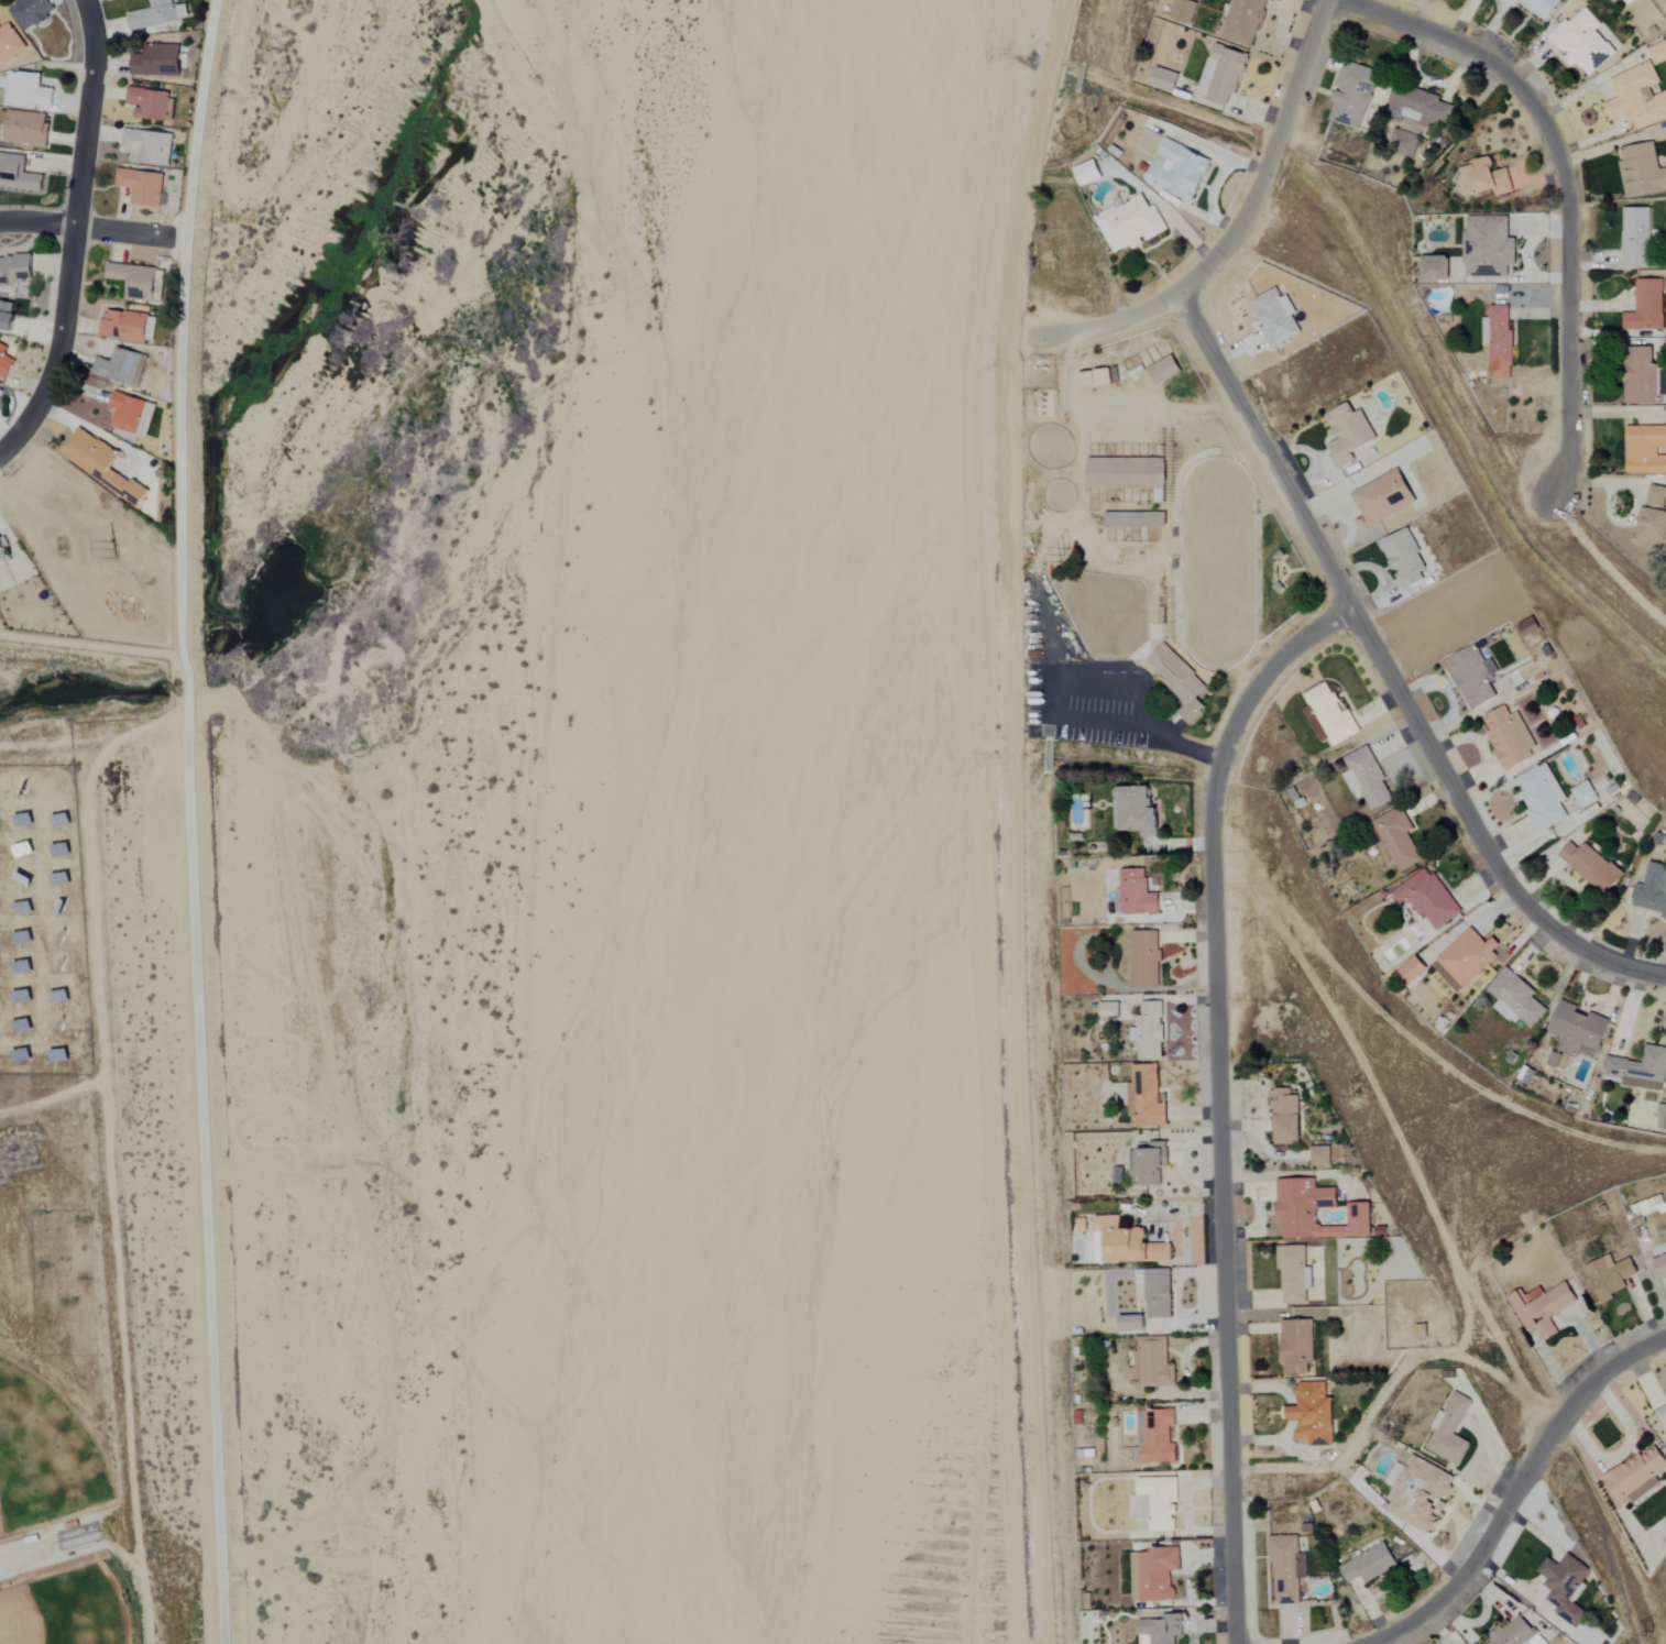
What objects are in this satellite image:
building: (1183, 11)
building: (30, 12)
building: (157, 14)
building: (1243, 22)
building: (1582, 43)
building: (9, 44)
building: (1657, 53)
building: (155, 62)
building: (1221, 76)
building: (1164, 80)
building: (29, 90)
building: (1352, 95)
building: (1636, 98)
building: (150, 105)
building: (1418, 108)
building: (24, 129)
building: (147, 147)
road: (1269, 154)
building: (1179, 171)
building: (1642, 172)
building: (1087, 174)
building: (18, 175)
building: (1487, 178)
road: (1566, 183)
building: (141, 187)
building: (1130, 224)
road: (92, 230)
road: (73, 231)
building: (1636, 237)
building: (1489, 248)
building: (1436, 268)
building: (15, 270)
building: (139, 282)
building: (1646, 307)
building: (7, 315)
building: (1276, 318)
building: (127, 326)
road: (1115, 326)
building: (1501, 337)
building: (4, 362)
building: (121, 366)
building: (1164, 371)
building: (1644, 376)
building: (1104, 379)
building: (0, 395)
building: (131, 414)
building: (1349, 434)
building: (1645, 449)
building: (100, 463)
building: (1121, 471)
building: (1384, 497)
building: (1654, 516)
building: (1136, 519)
power tower: (109, 547)
building: (2, 550)
power tower: (1054, 552)
building: (1404, 558)
building: (1528, 626)
road: (1388, 672)
building: (1473, 677)
building: (1179, 681)
building: (1333, 715)
road: (1079, 720)
building: (1316, 724)
building: (1510, 738)
building: (1367, 778)
building: (1585, 794)
building: (1543, 797)
building: (1139, 811)
road: (190, 820)
river: (723, 821)
building: (1398, 839)
building: (1591, 866)
building: (58, 879)
building: (1653, 890)
building: (1137, 894)
building: (1428, 899)
building: (58, 909)
road: (96, 924)
solar farm: (43, 927)
building: (59, 938)
building: (1468, 956)
building: (1146, 958)
building: (0, 963)
building: (1412, 971)
building: (1515, 999)
building: (1109, 1012)
building: (1150, 1030)
building: (1579, 1031)
building: (21, 1056)
building: (1554, 1059)
building: (1641, 1070)
building: (1147, 1096)
power tower: (1355, 1096)
road: (1218, 1098)
building: (1286, 1117)
building: (1320, 1157)
building: (1149, 1163)
building: (1306, 1209)
building: (1360, 1220)
building: (1129, 1243)
building: (1660, 1268)
building: (1294, 1274)
building: (1610, 1276)
building: (1159, 1294)
building: (1543, 1308)
building: (1132, 1323)
building: (1422, 1331)
building: (1297, 1347)
building: (1152, 1363)
building: (1312, 1414)
building: (1662, 1416)
building: (1450, 1431)
building: (1159, 1437)
building: (1637, 1476)
road: (1517, 1491)
building: (1421, 1494)
building: (1161, 1501)
park: (17, 1508)
road: (26, 1552)
building: (1369, 1565)
building: (1287, 1570)
building: (1158, 1575)
building: (1565, 1587)
park: (56, 1612)
building: (1162, 1630)
power tower: (1646, 1632)
building: (1517, 1634)

